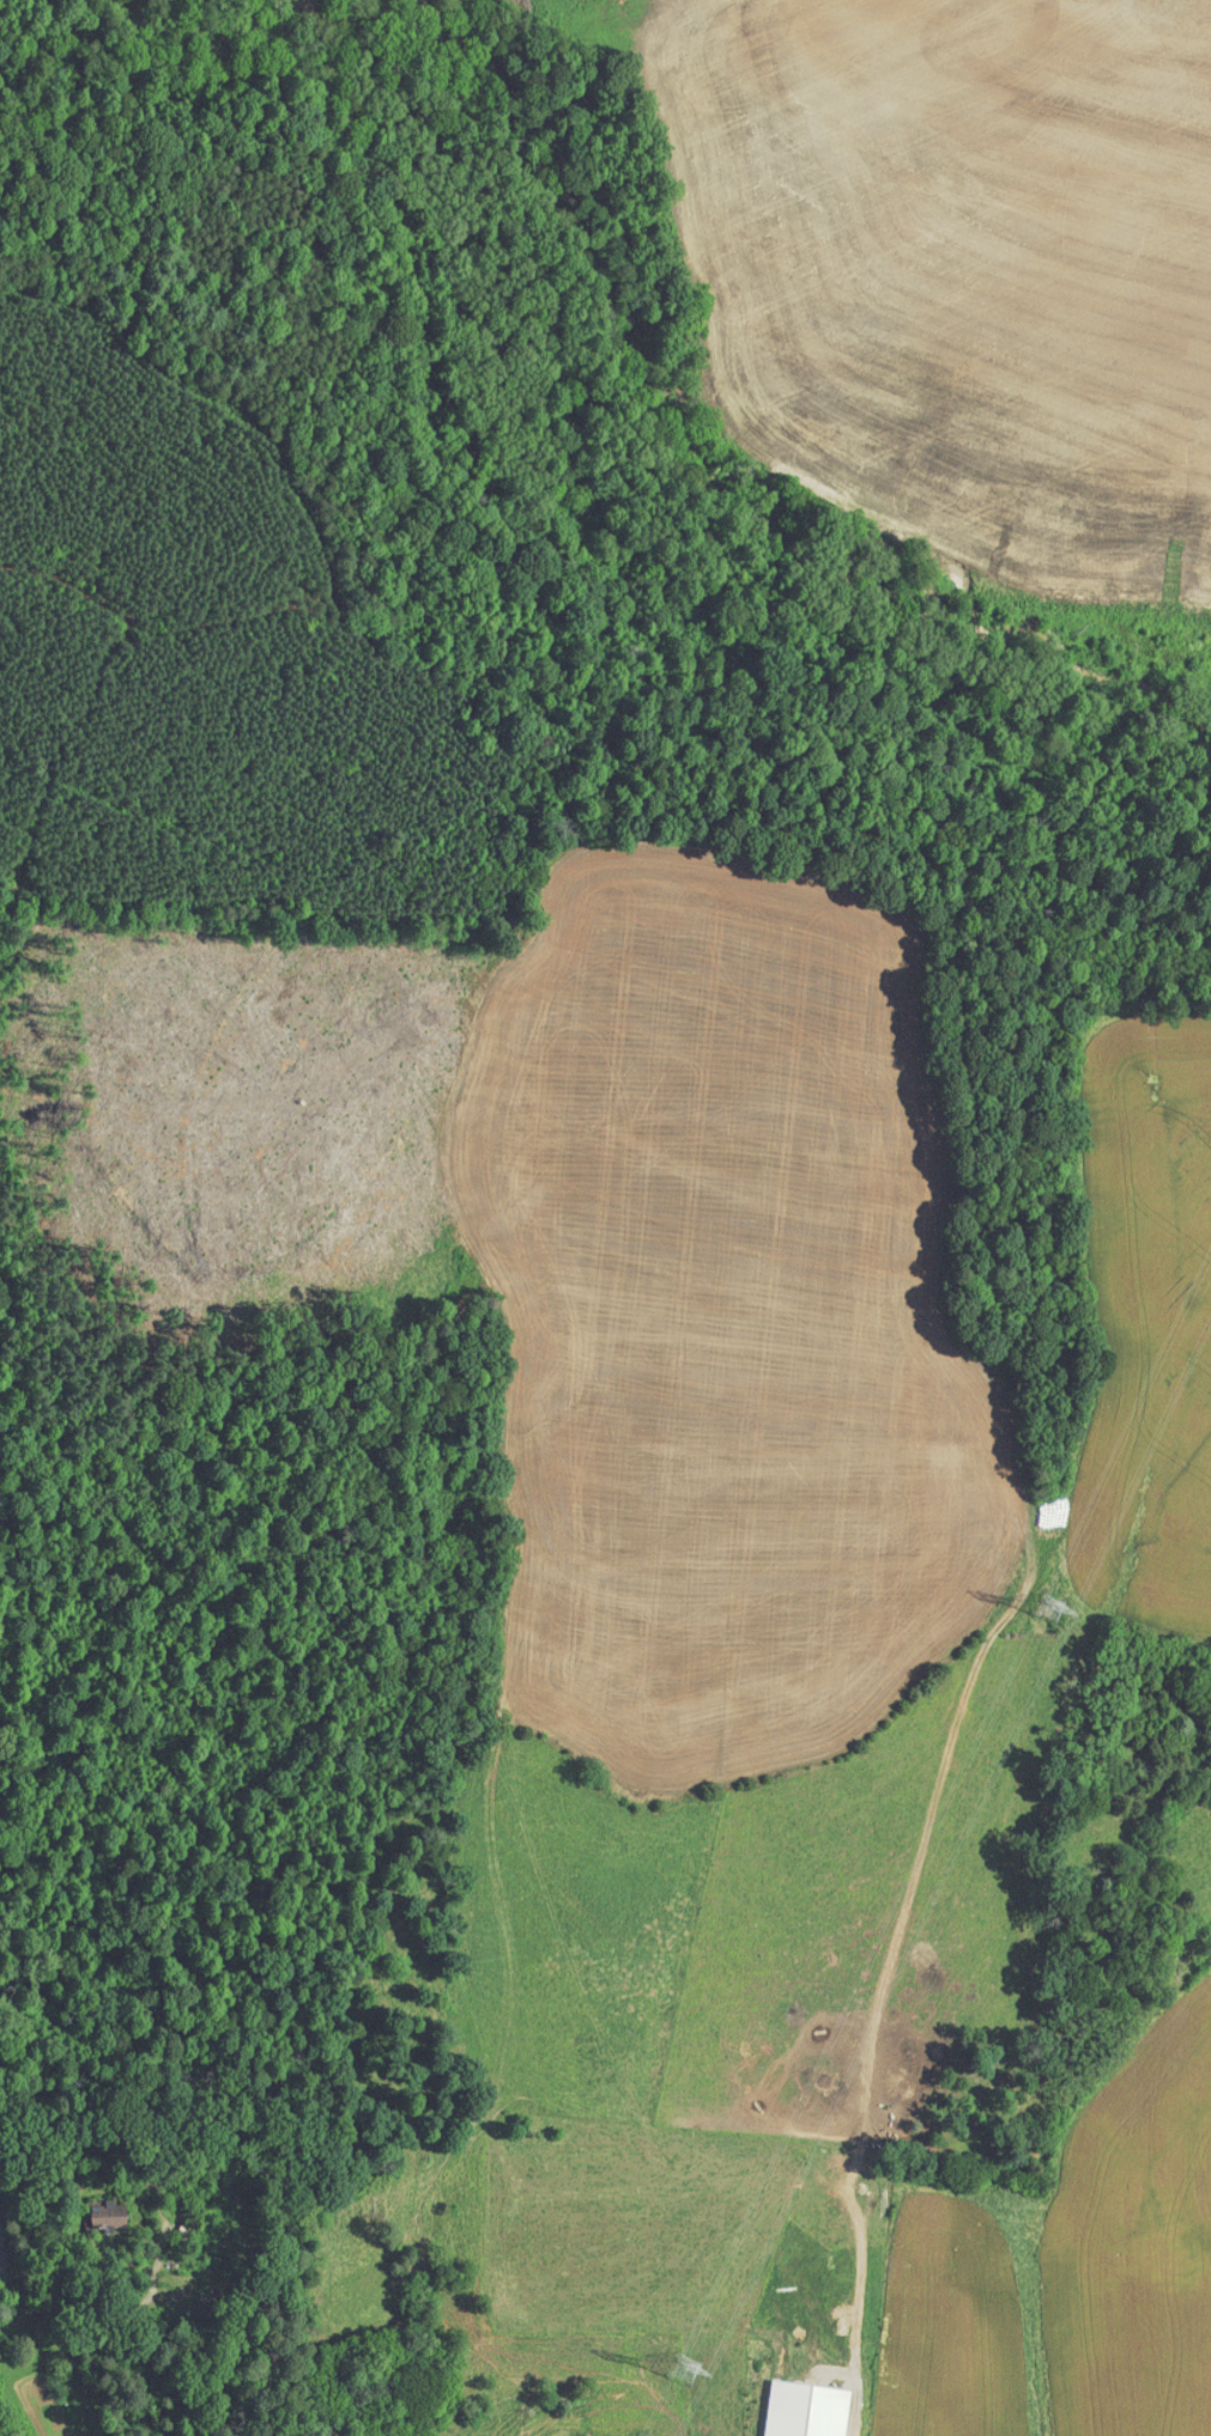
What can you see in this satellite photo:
power tower: (1049, 1609)
power tower: (680, 2369)
building: (804, 2408)

